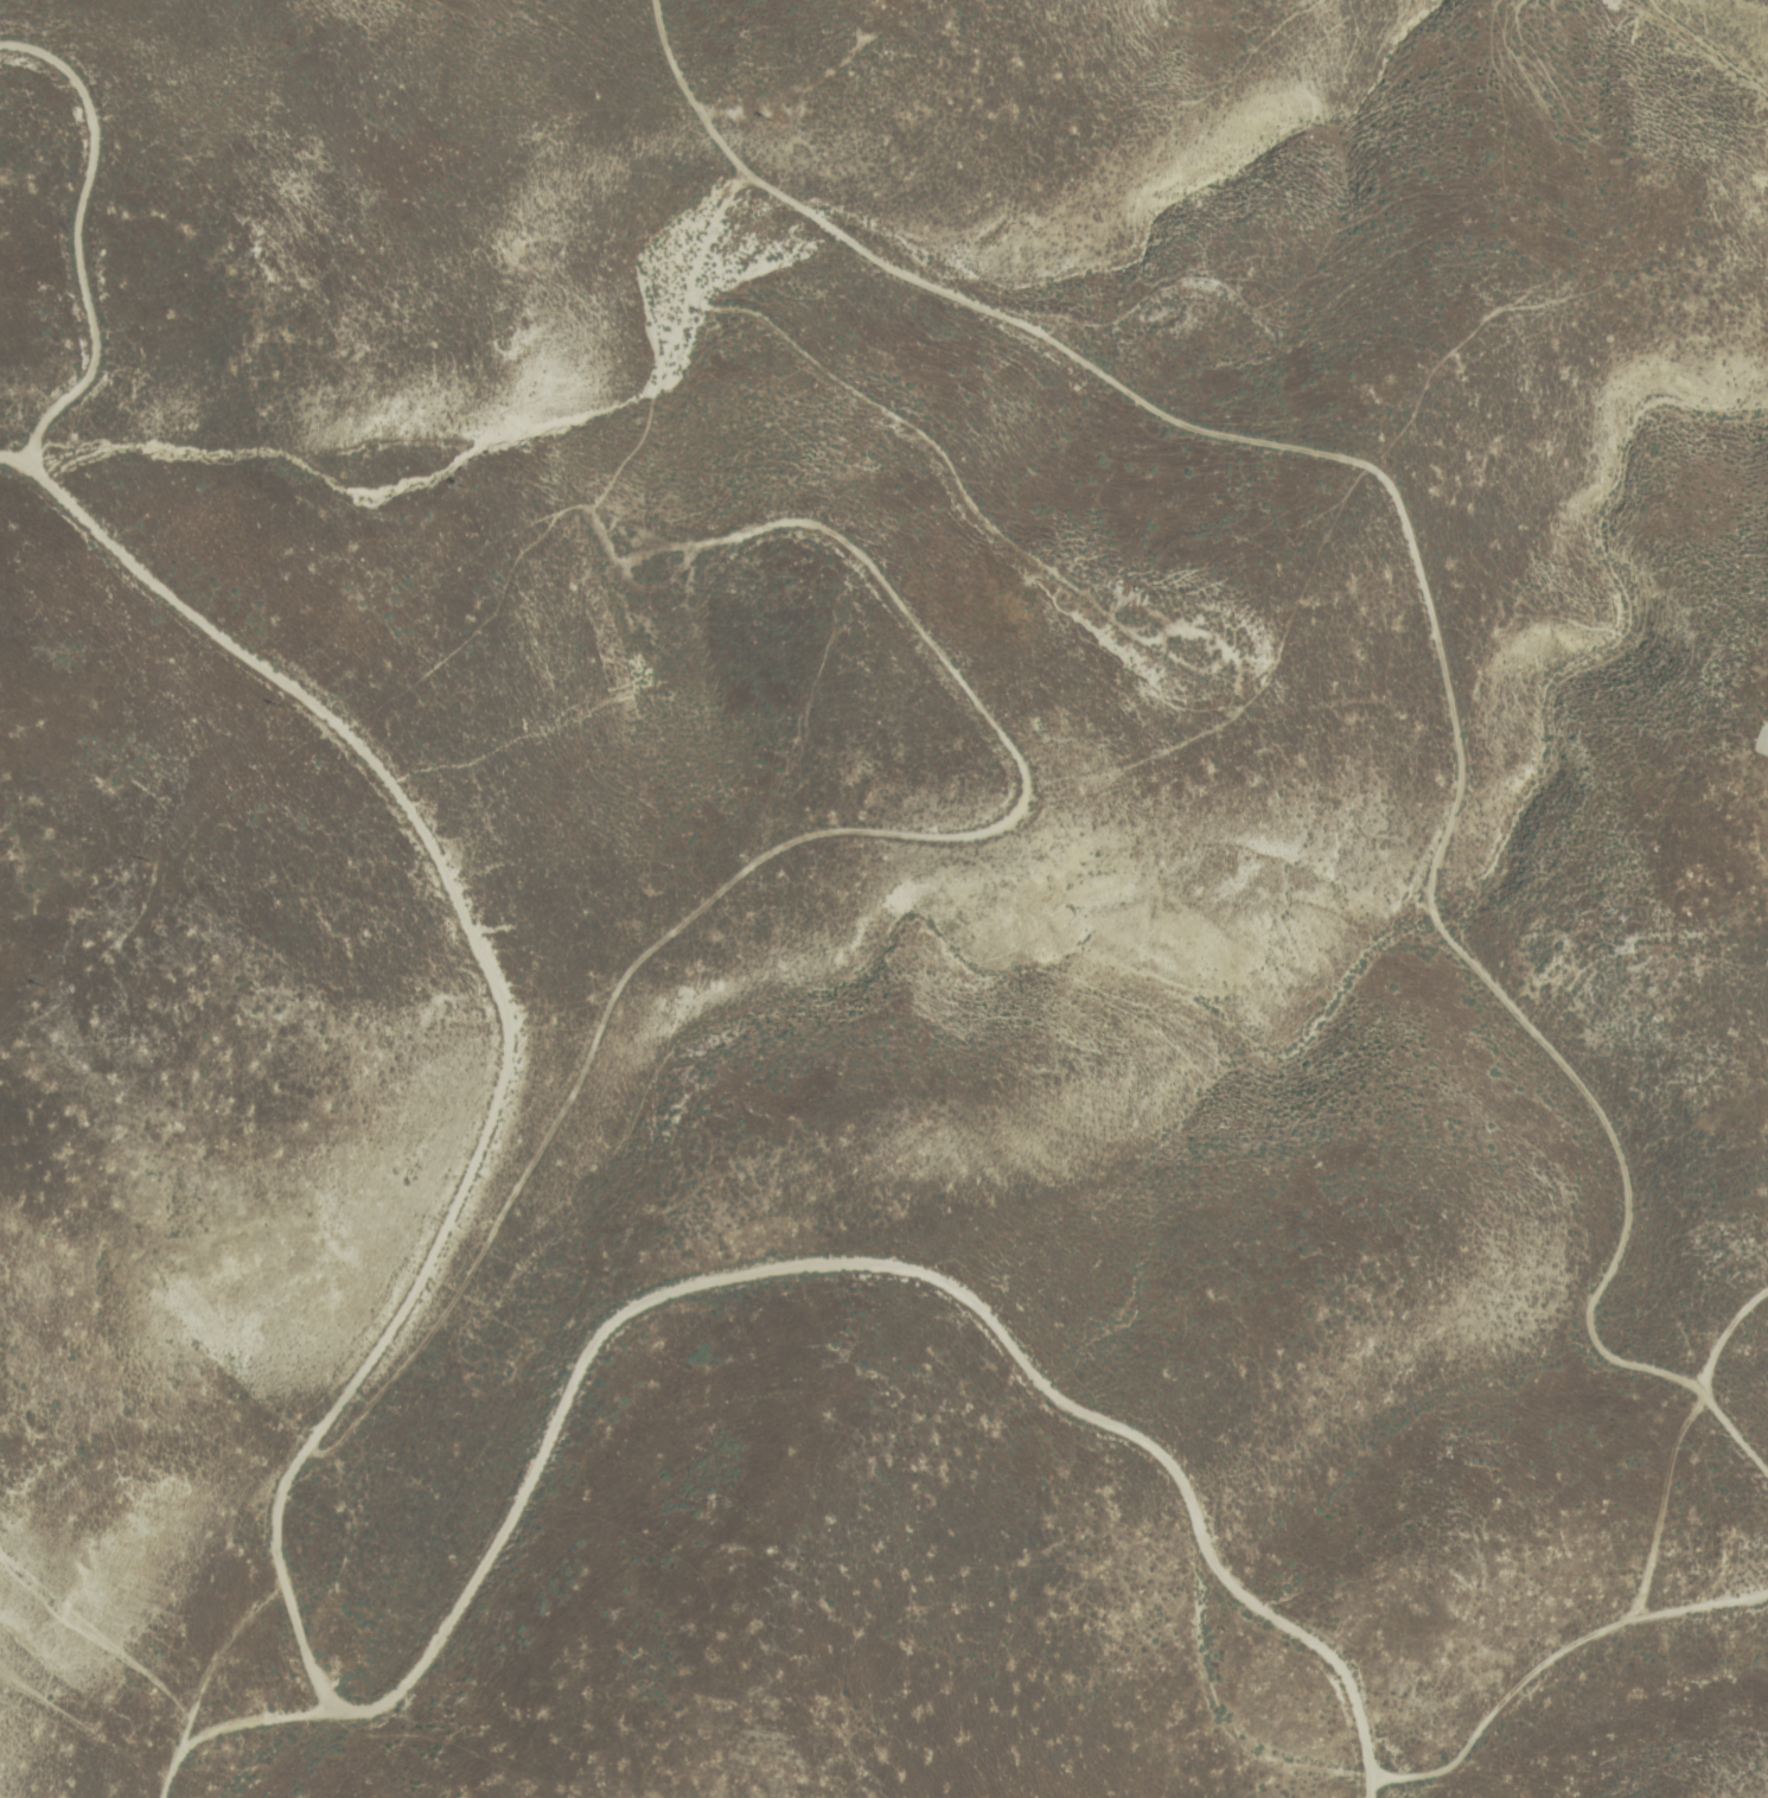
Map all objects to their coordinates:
road: (78, 237)
road: (1492, 741)
road: (468, 927)
road: (818, 1265)
road: (1658, 1532)
road: (1289, 1627)
road: (1552, 1662)
road: (208, 1687)
road: (378, 1705)
road: (263, 1723)

